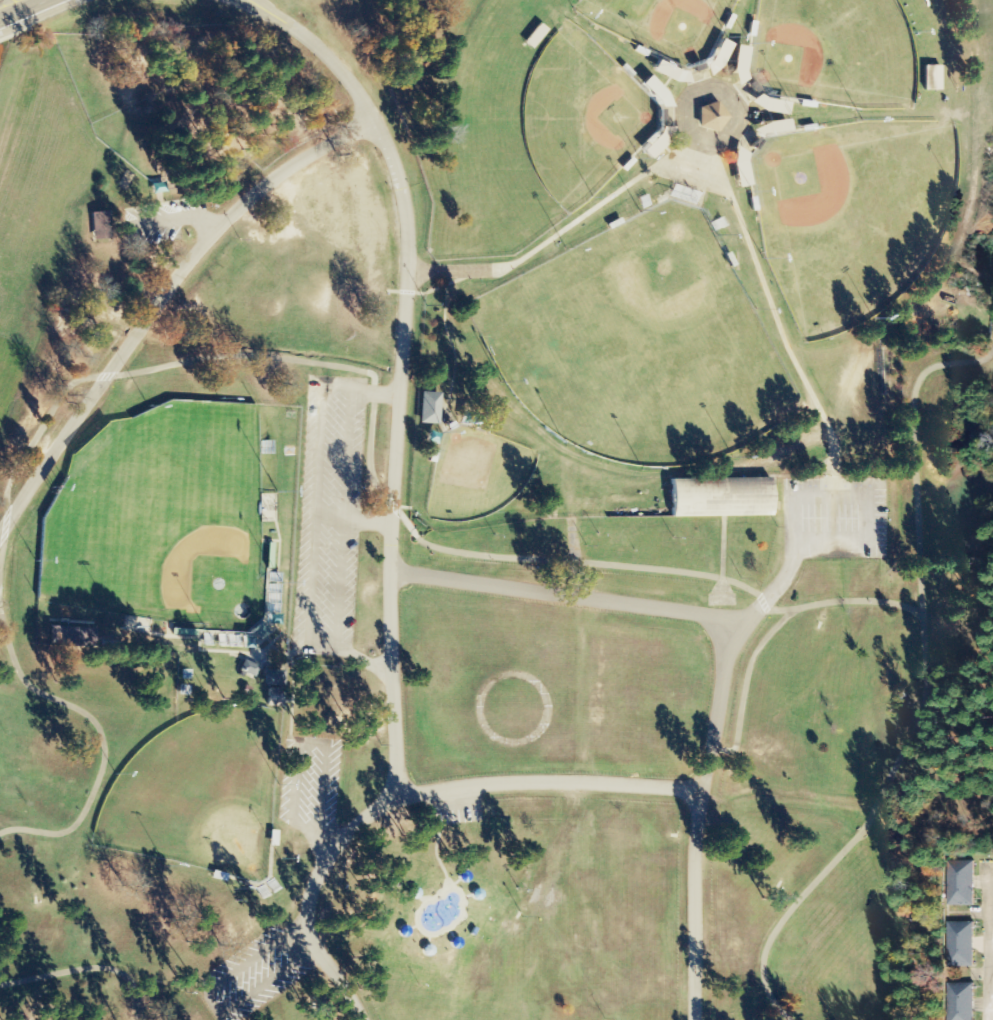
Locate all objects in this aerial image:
road: (18, 7)
road: (256, 12)
road: (269, 12)
road: (38, 15)
park: (664, 25)
park: (835, 52)
building: (931, 78)
park: (581, 117)
building: (709, 117)
park: (854, 213)
building: (100, 225)
road: (457, 271)
road: (163, 297)
park: (641, 346)
building: (429, 408)
road: (914, 454)
building: (718, 497)
park: (491, 505)
parking lot: (835, 517)
park: (160, 519)
road: (397, 533)
road: (721, 550)
road: (561, 559)
road: (616, 599)
building: (259, 631)
building: (247, 668)
road: (744, 683)
road: (101, 738)
road: (551, 780)
park: (200, 792)
road: (699, 813)
building: (960, 883)
water park: (452, 910)
road: (991, 928)
road: (989, 943)
building: (960, 944)
road: (88, 967)
building: (959, 1002)

